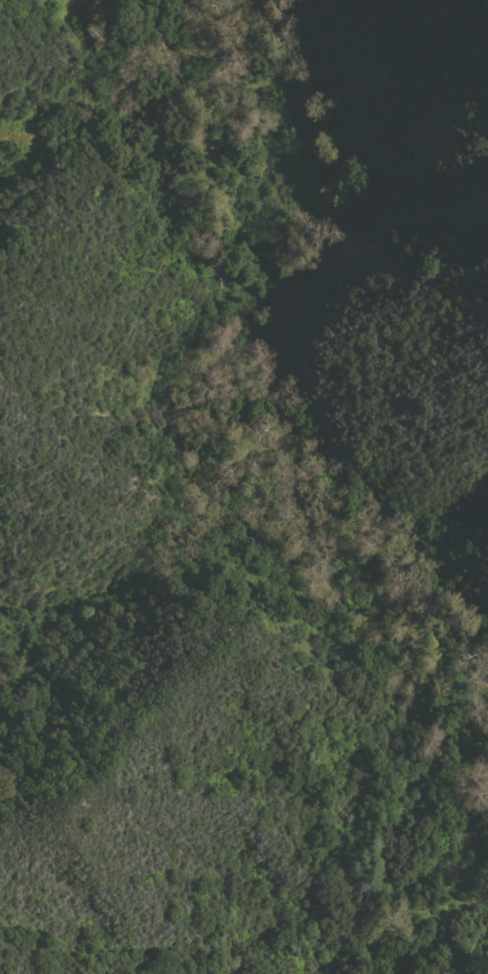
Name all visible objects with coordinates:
road: (180, 21)

